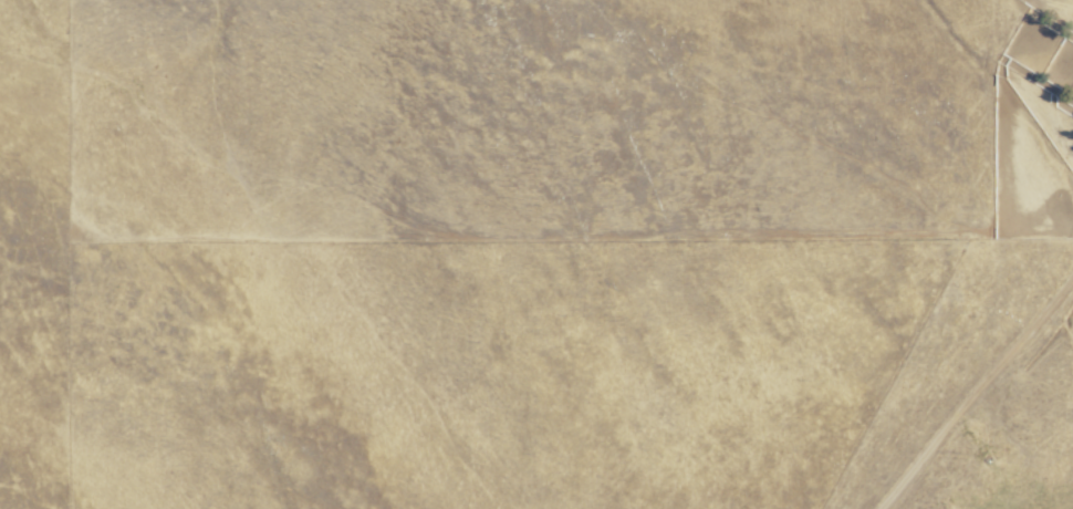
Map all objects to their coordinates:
road: (958, 362)

